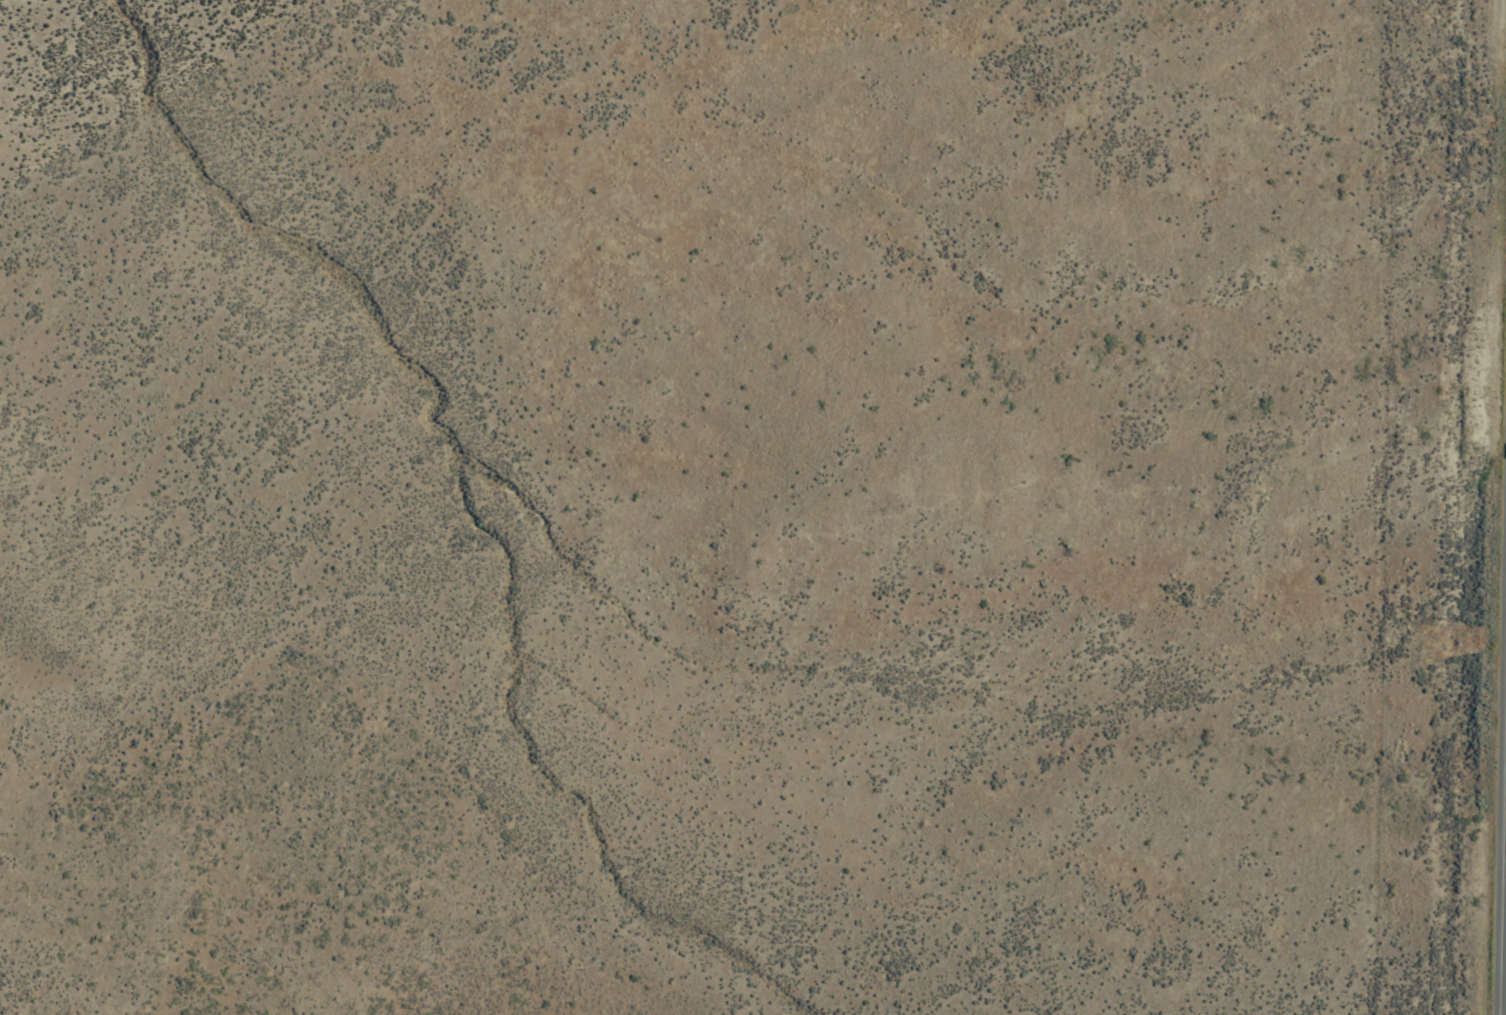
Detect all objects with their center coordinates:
crop: (732, 540)

